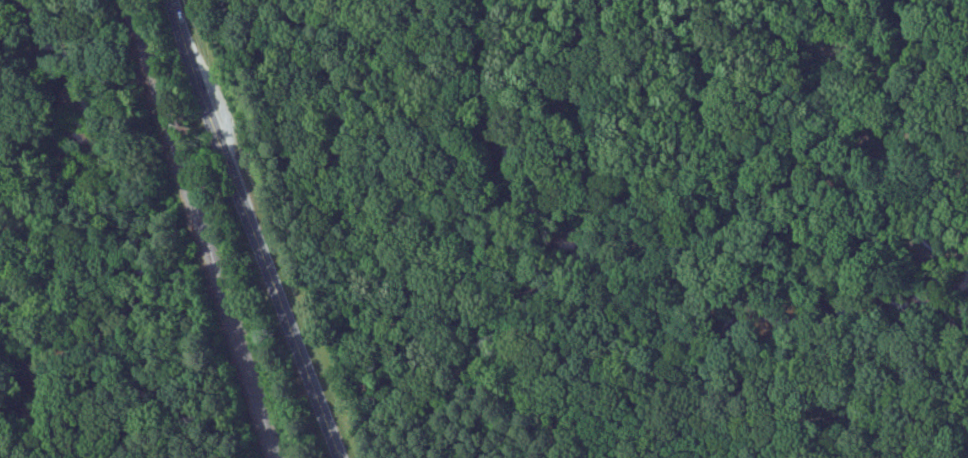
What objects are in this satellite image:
railway: (201, 228)
road: (258, 229)

